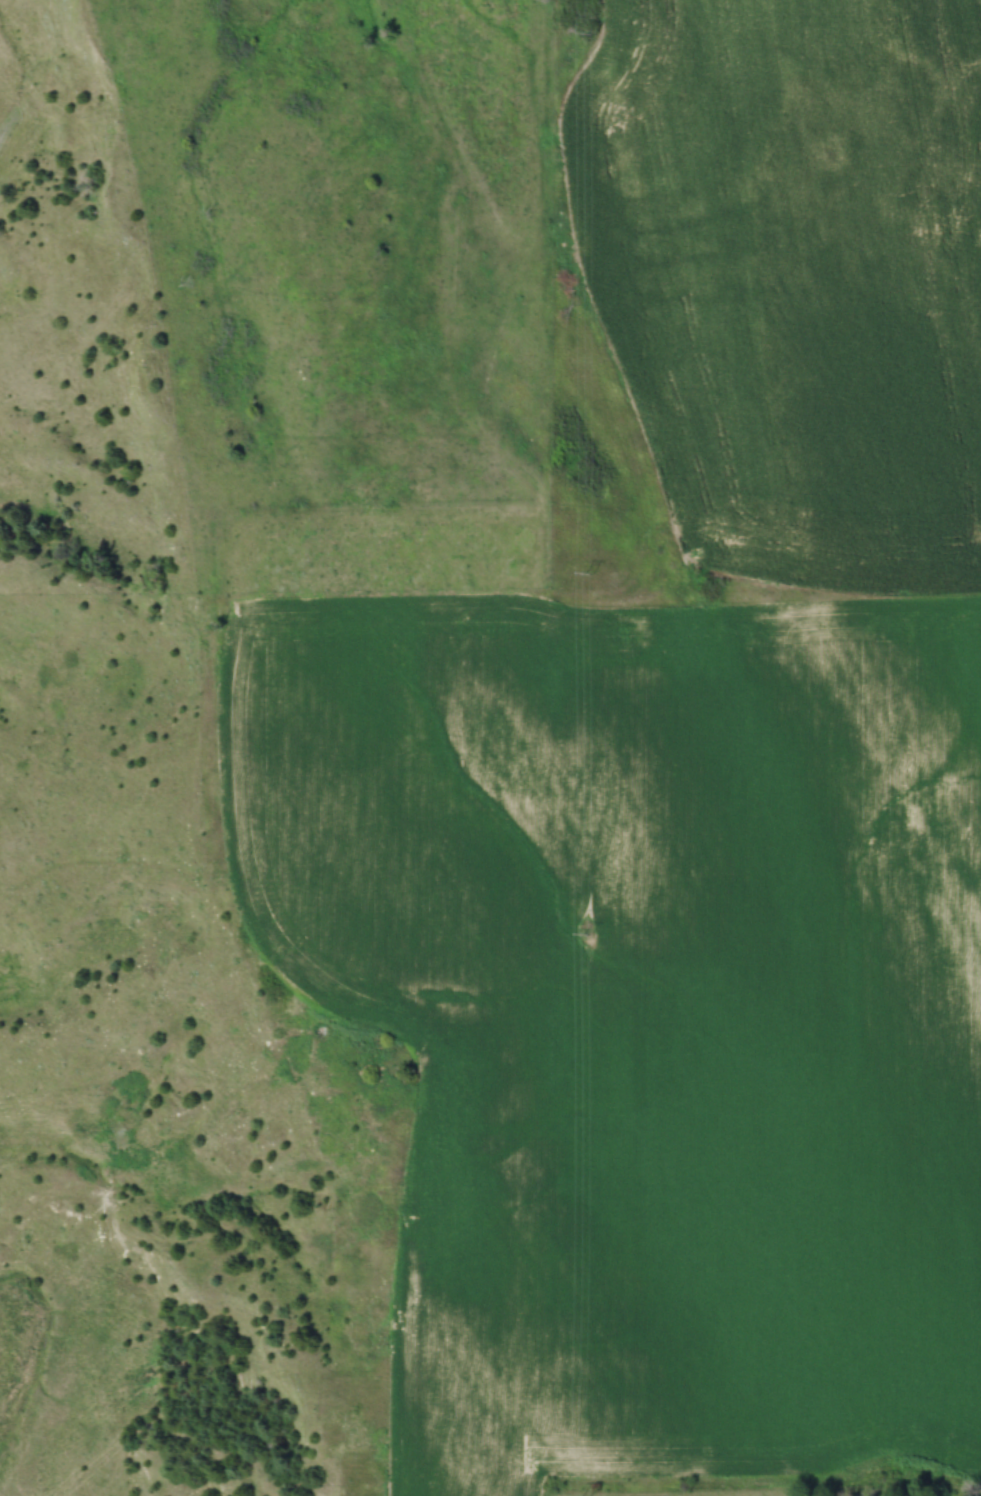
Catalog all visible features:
power tower: (593, 33)
power tower: (591, 571)
power tower: (589, 931)
power tower: (586, 1495)

